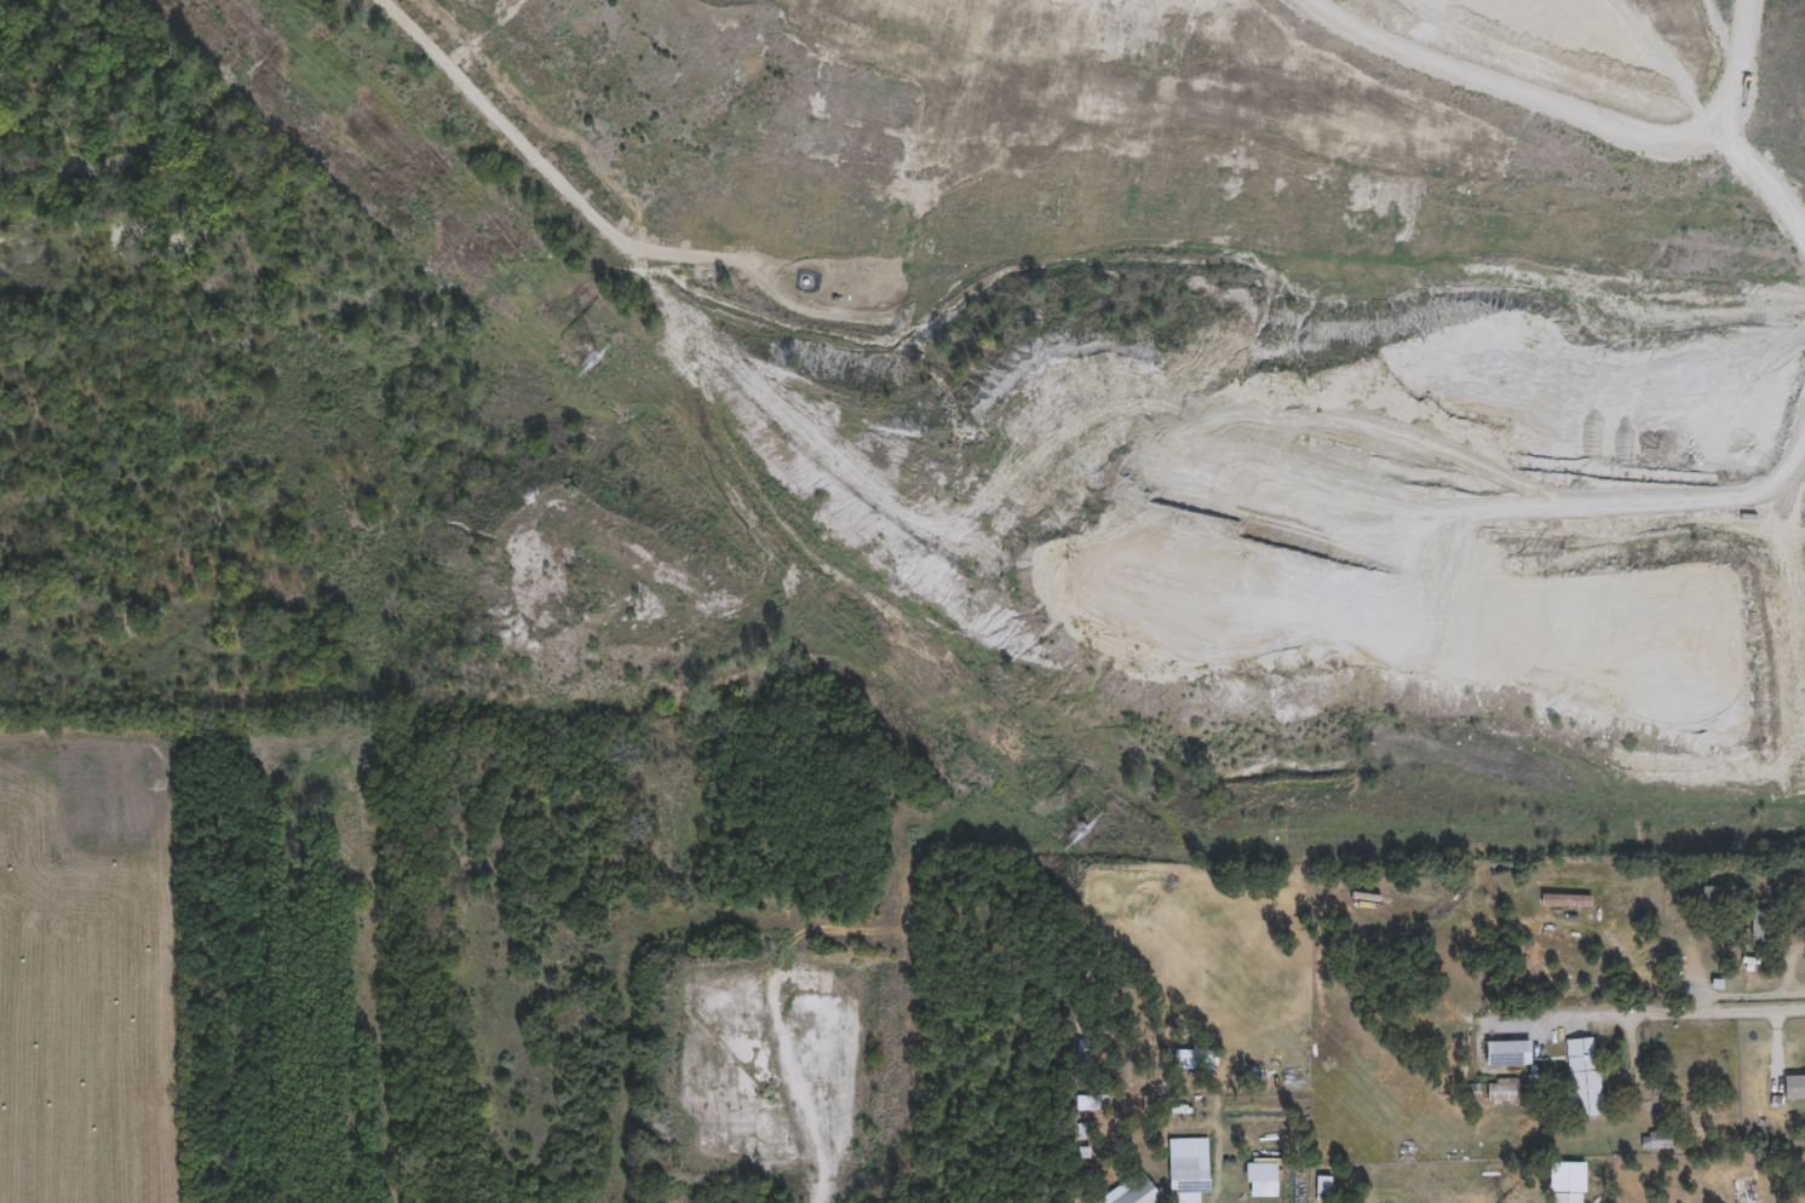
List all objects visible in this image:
power tower: (587, 358)
power tower: (1074, 833)
building: (1364, 899)
building: (1711, 899)
building: (1564, 900)
building: (1759, 932)
road: (1790, 965)
road: (1749, 994)
road: (1689, 1011)
building: (1581, 1078)
building: (1500, 1092)
road: (800, 1110)
building: (1654, 1141)
building: (1182, 1180)
building: (1321, 1186)
building: (1743, 1192)
building: (1138, 1195)

